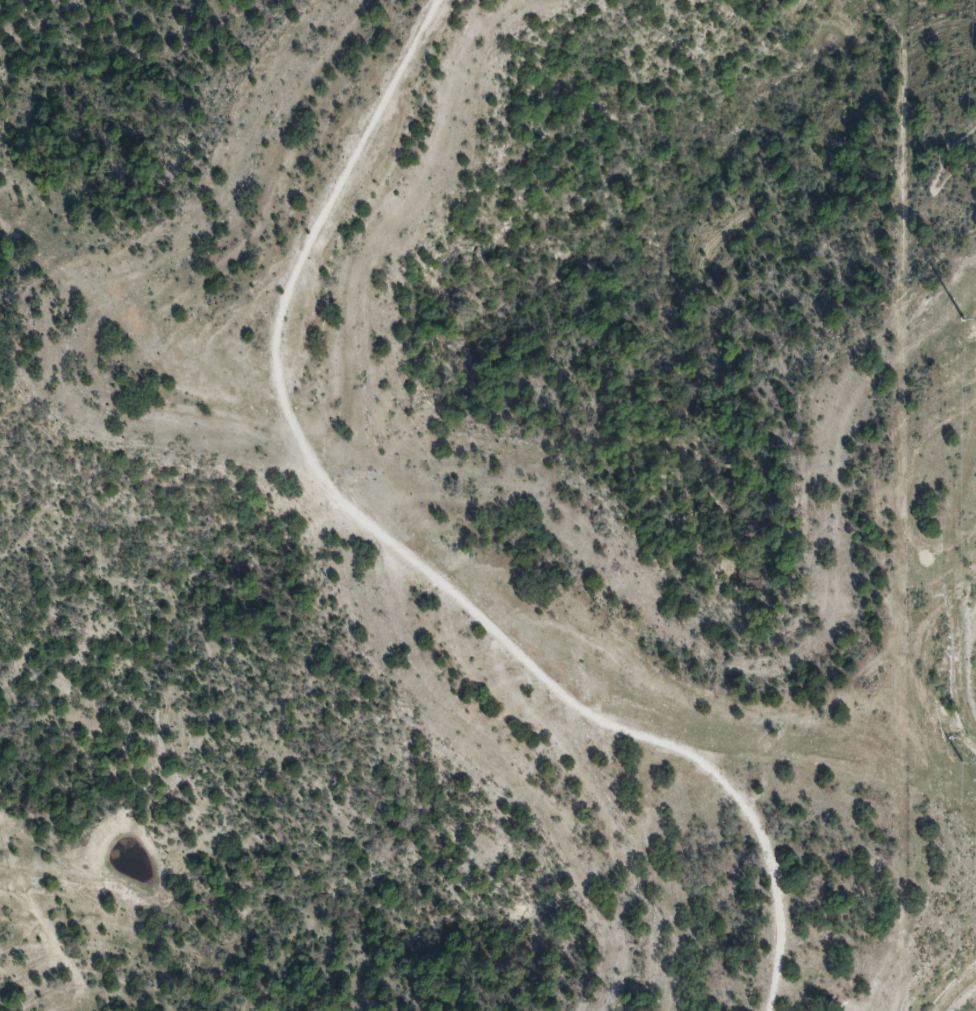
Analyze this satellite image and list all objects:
road: (932, 181)
power tower: (964, 321)
power tower: (962, 761)
road: (956, 990)

